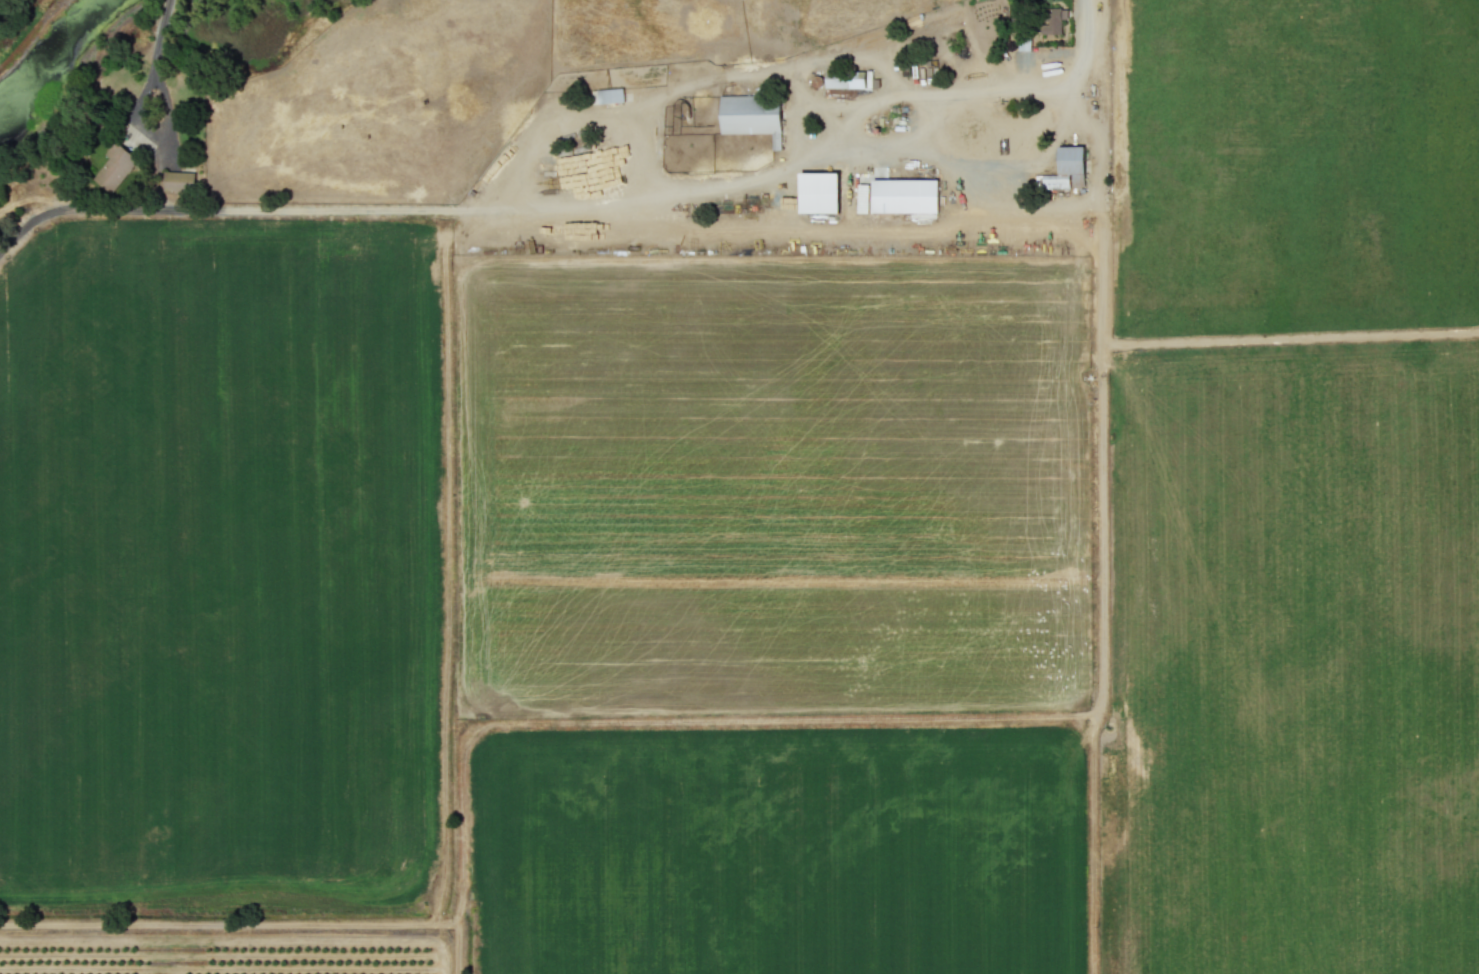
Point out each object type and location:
building: (1053, 20)
road: (153, 63)
building: (847, 78)
road: (973, 87)
building: (607, 95)
building: (751, 115)
building: (114, 166)
building: (1065, 169)
building: (177, 180)
building: (818, 192)
building: (904, 195)

